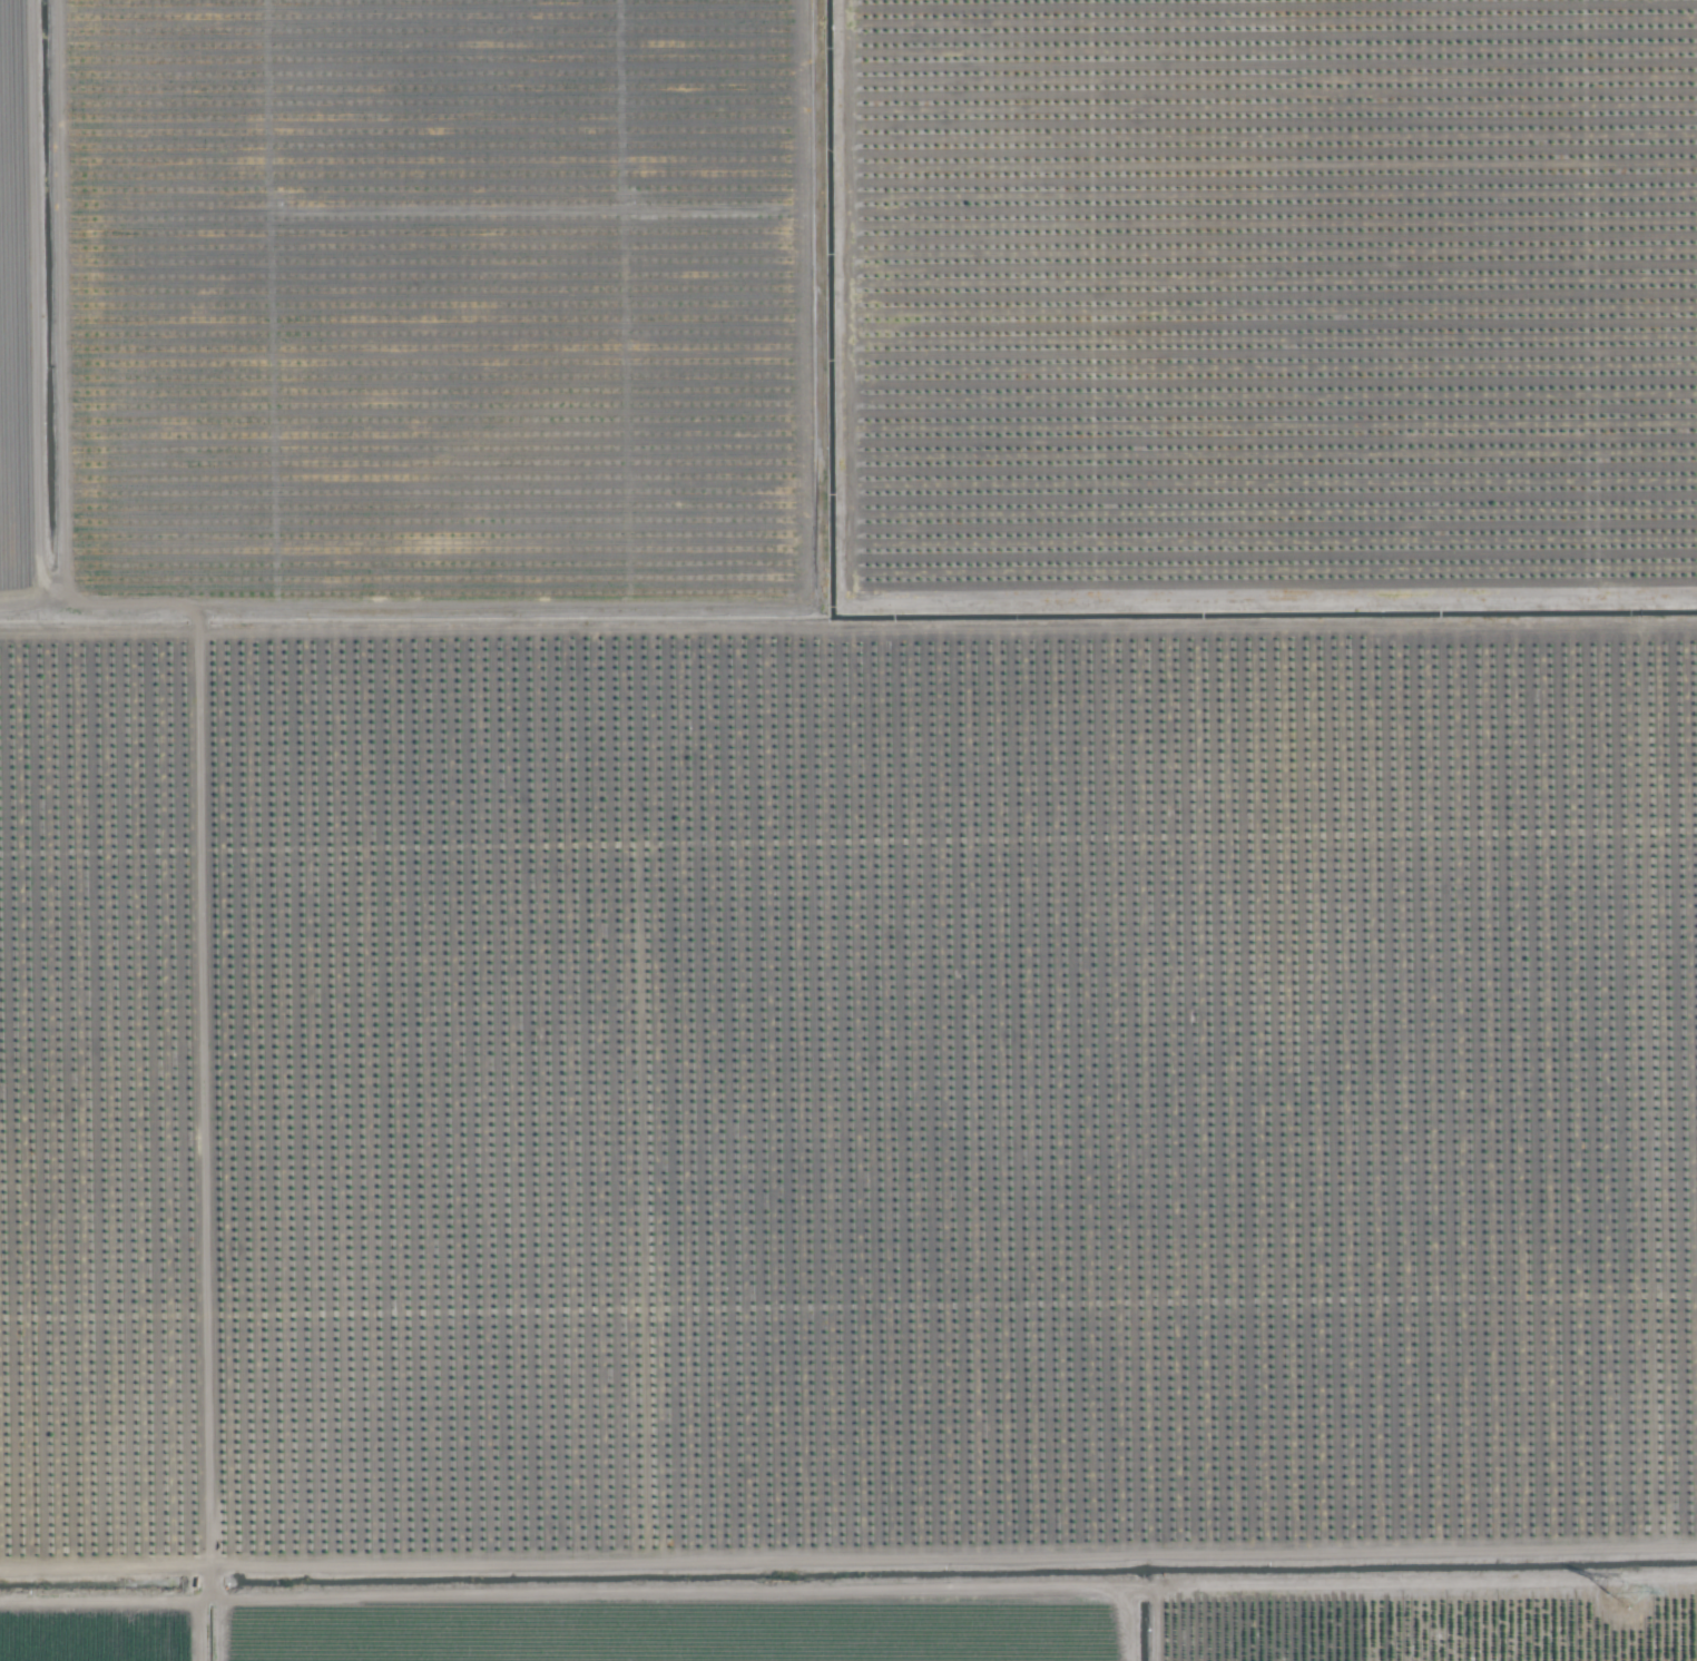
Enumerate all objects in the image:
power tower: (1621, 1606)

